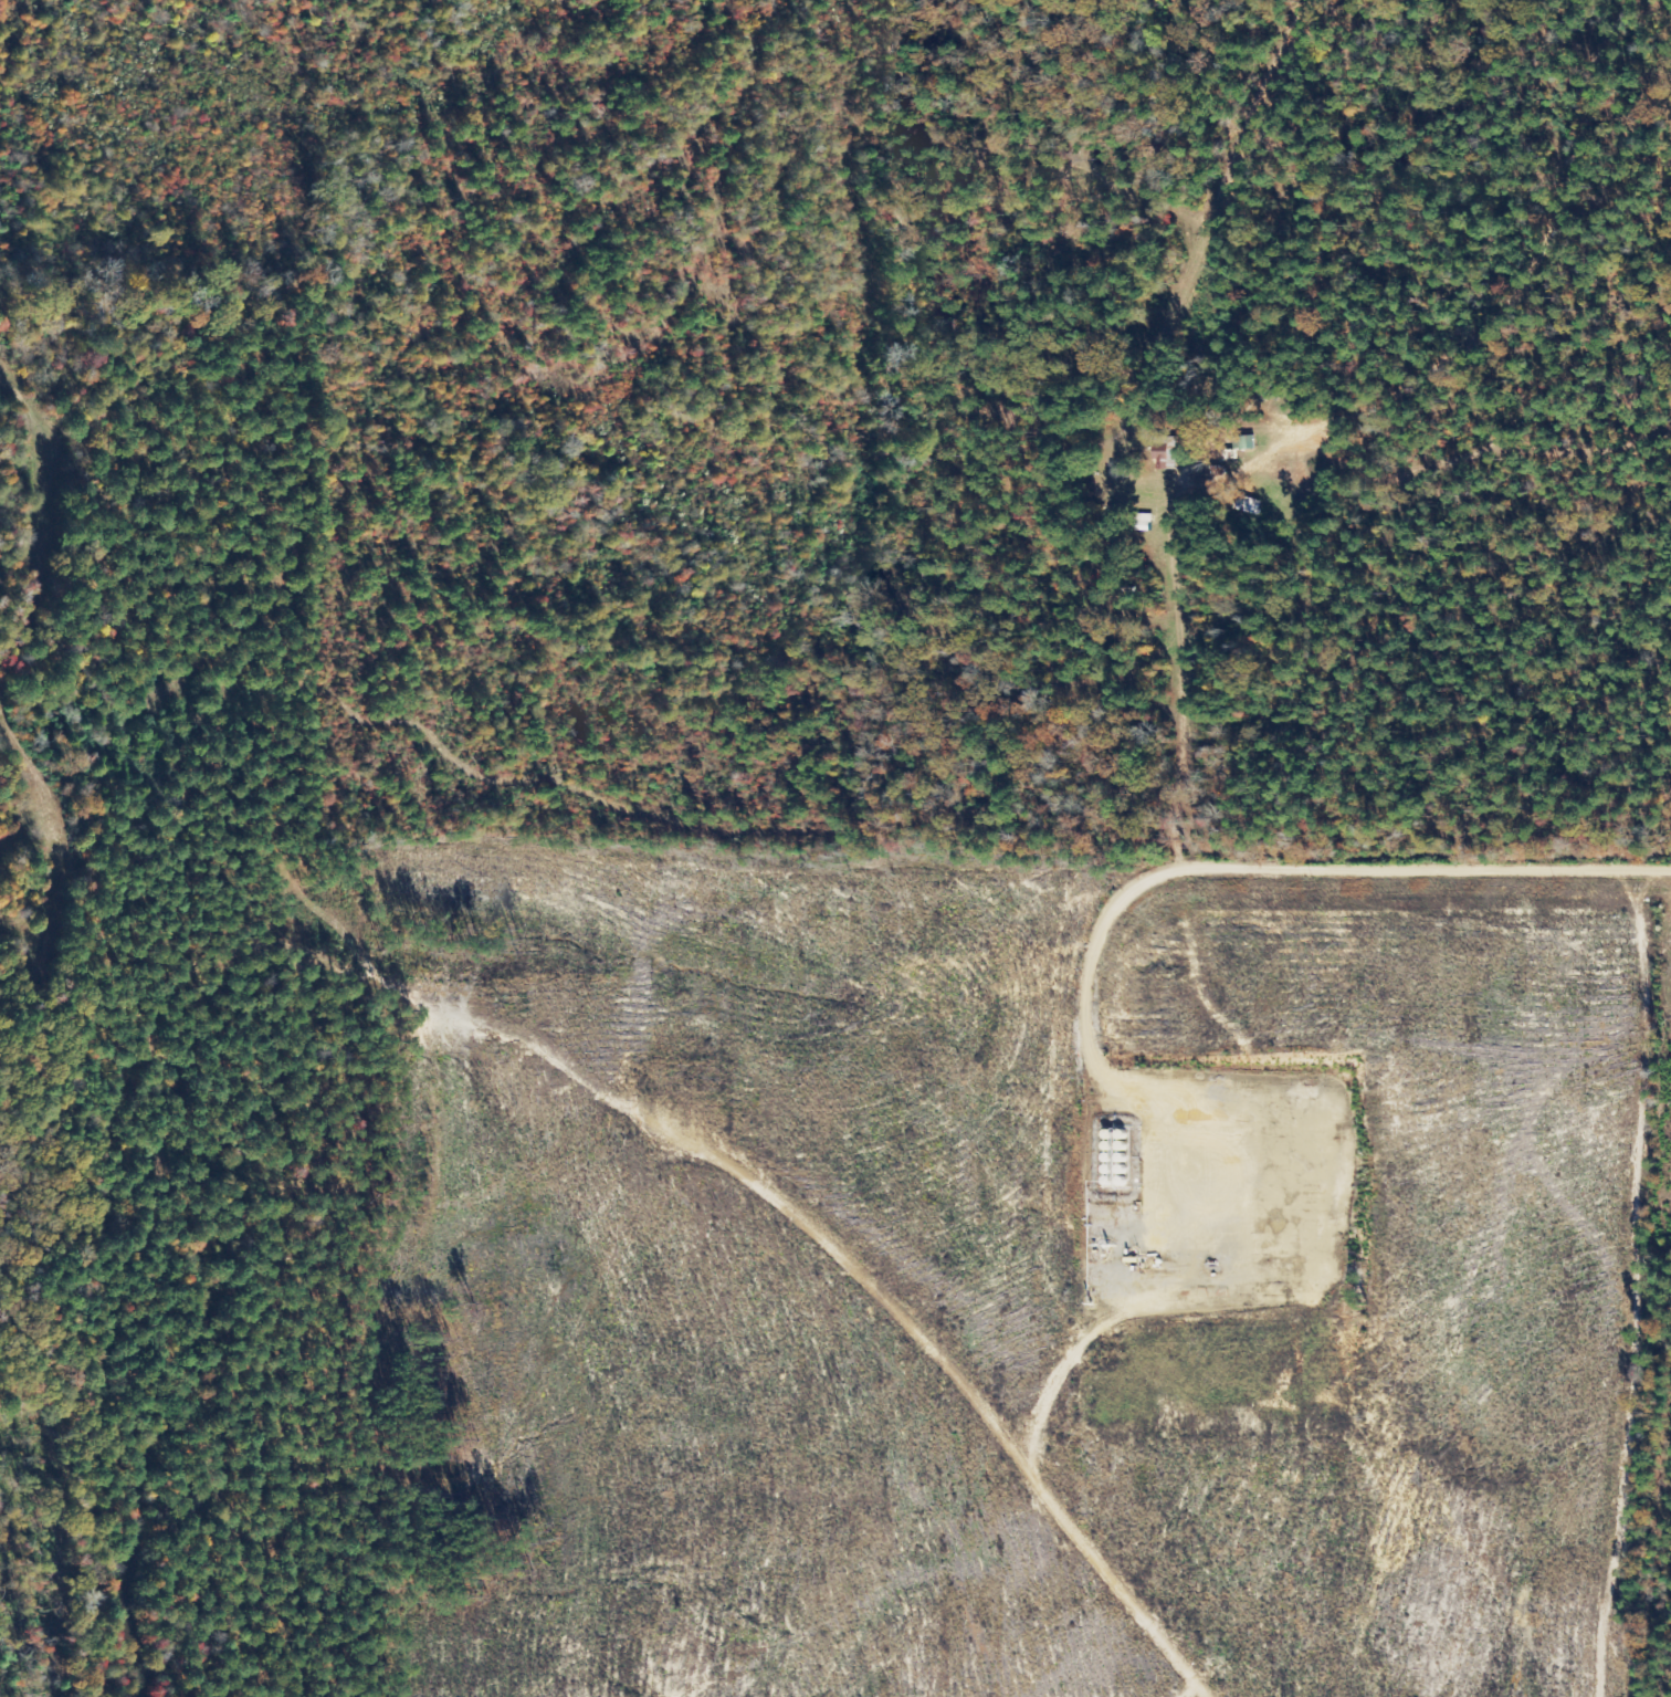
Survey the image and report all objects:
building: (1246, 441)

